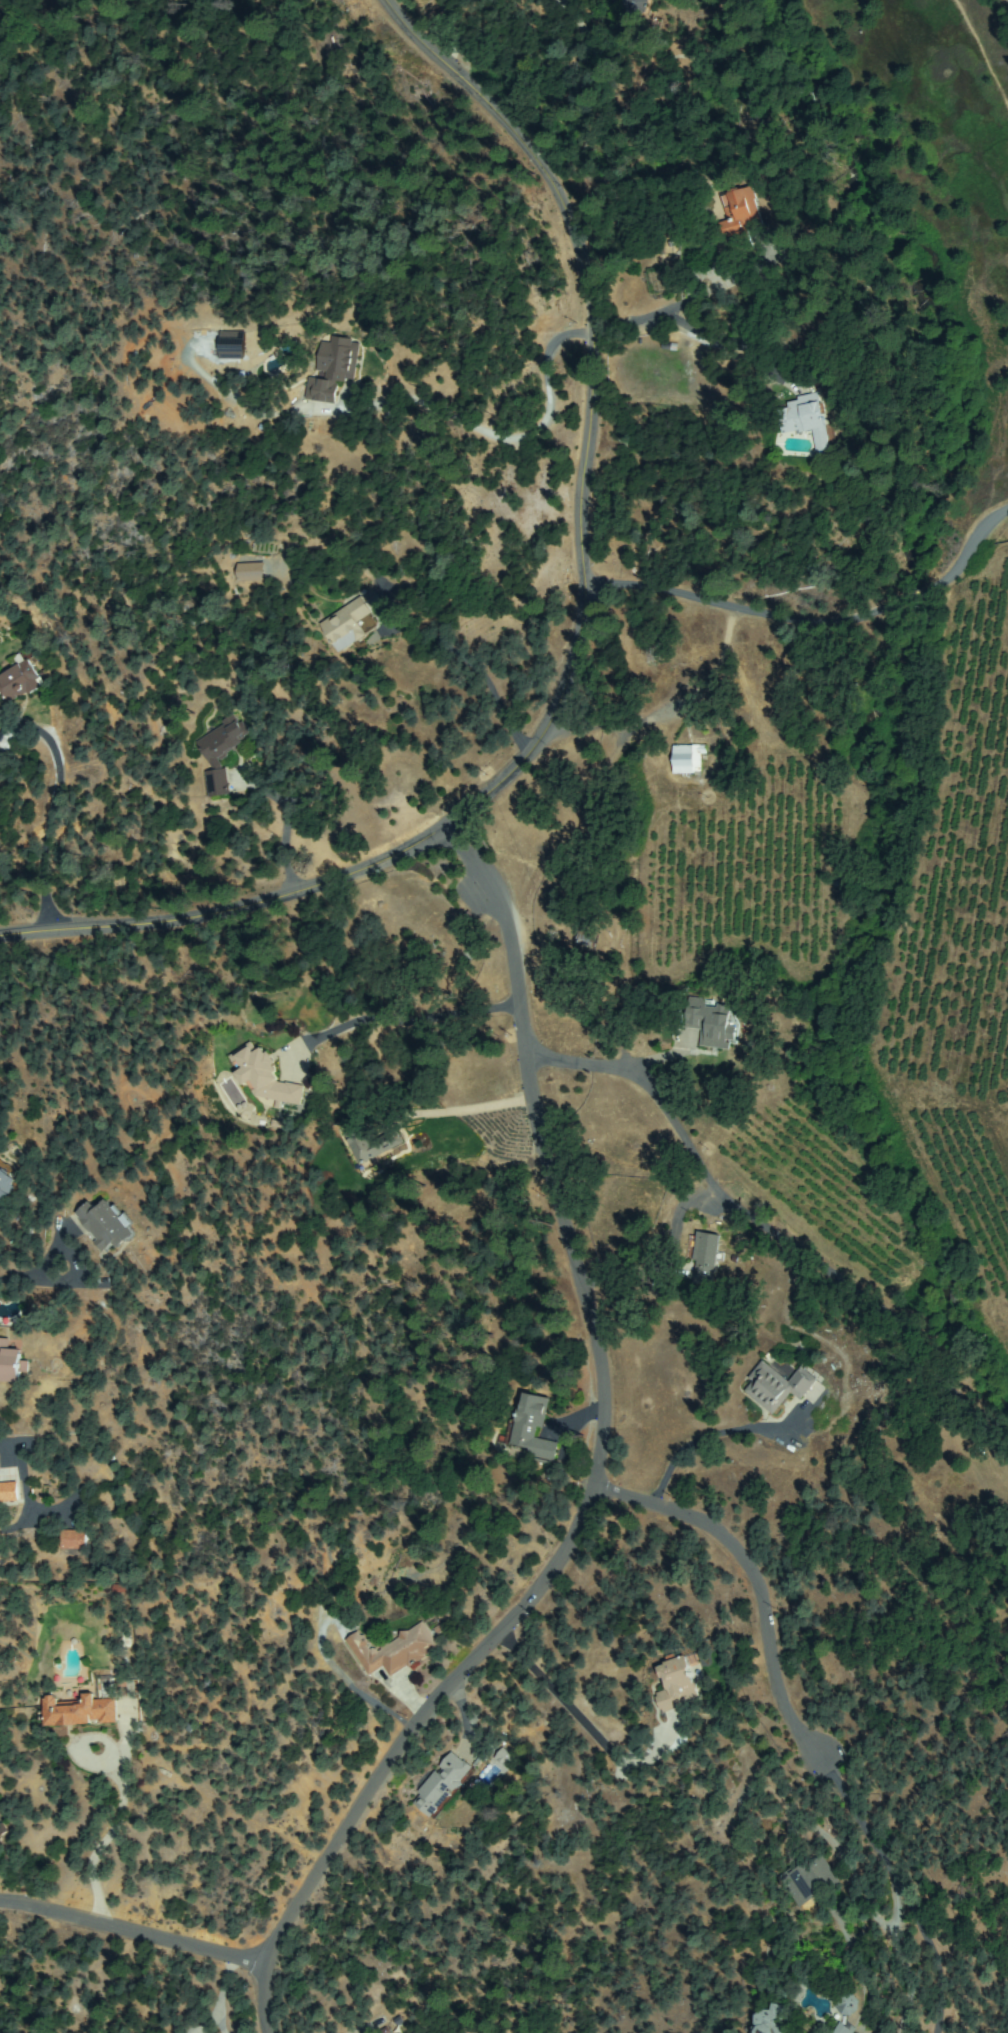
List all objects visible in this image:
building: (635, 15)
road: (595, 99)
road: (545, 119)
building: (704, 127)
building: (742, 213)
building: (234, 344)
building: (333, 369)
building: (806, 419)
building: (251, 572)
road: (806, 615)
building: (347, 625)
road: (564, 639)
building: (18, 679)
building: (221, 752)
building: (688, 759)
building: (587, 941)
building: (711, 1024)
building: (263, 1076)
building: (370, 1143)
building: (5, 1185)
building: (2, 1213)
building: (105, 1225)
road: (760, 1230)
building: (705, 1259)
building: (11, 1362)
building: (777, 1387)
building: (532, 1427)
road: (598, 1430)
building: (8, 1491)
building: (74, 1540)
road: (752, 1590)
building: (395, 1651)
building: (678, 1682)
road: (359, 1684)
building: (79, 1710)
building: (504, 1758)
building: (442, 1785)
building: (811, 1881)
road: (126, 1936)
road: (267, 1999)
building: (852, 2007)
building: (773, 2021)
building: (410, 2032)
building: (418, 2032)

